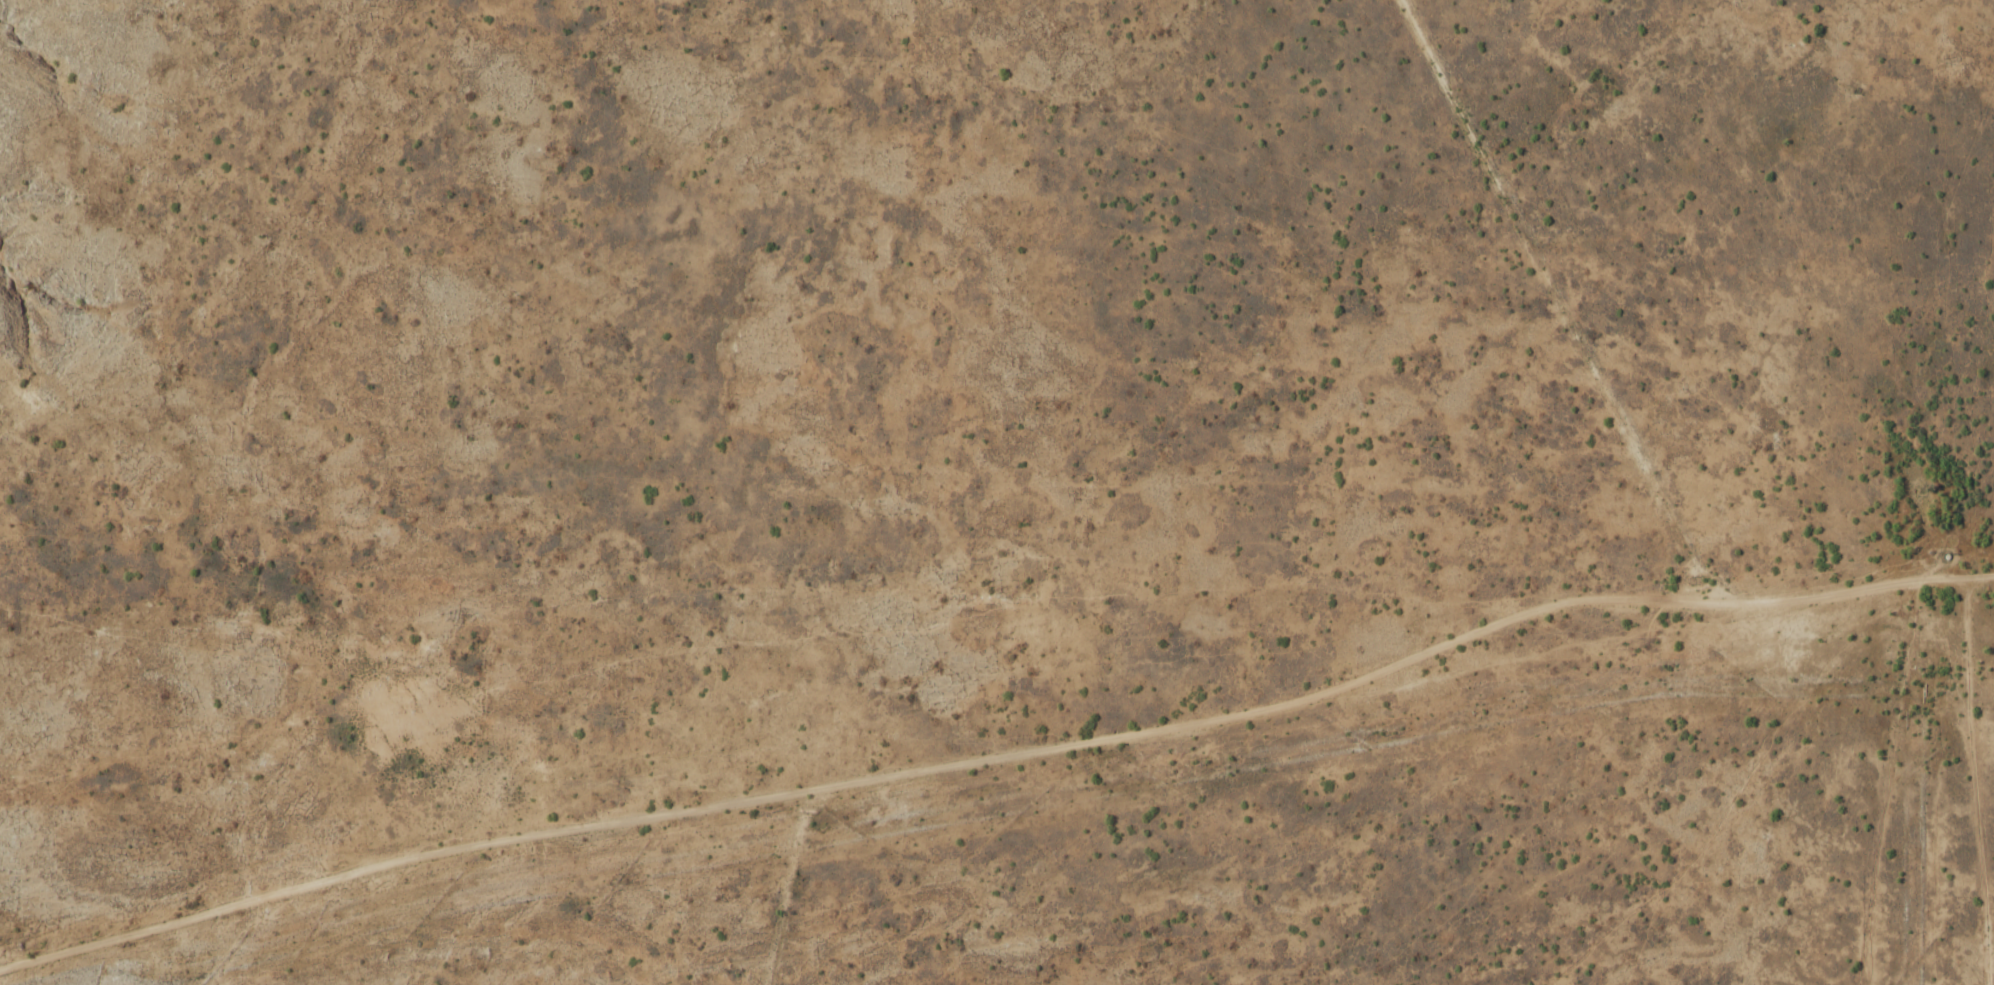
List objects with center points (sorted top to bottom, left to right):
road: (1039, 736)

